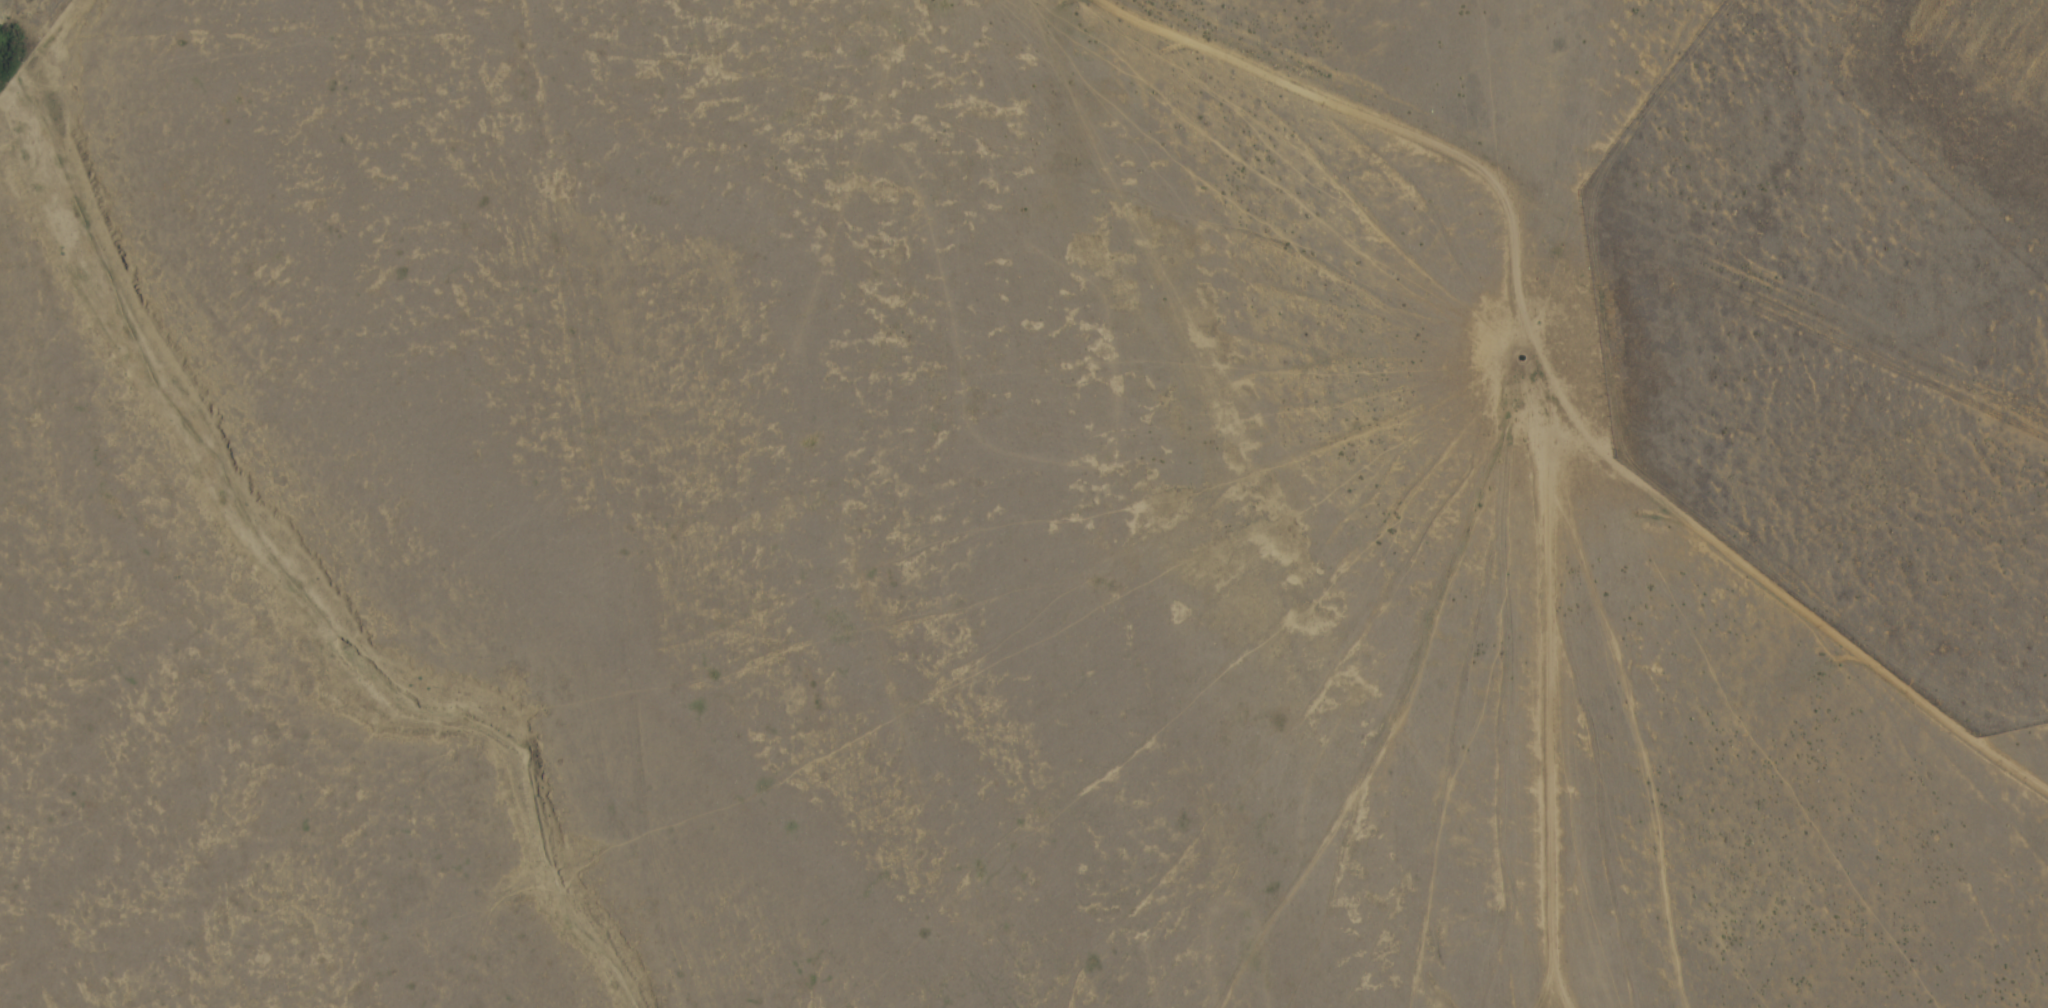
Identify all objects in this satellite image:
airport: (1852, 319)
road: (1833, 329)
road: (1553, 399)
road: (1667, 444)

